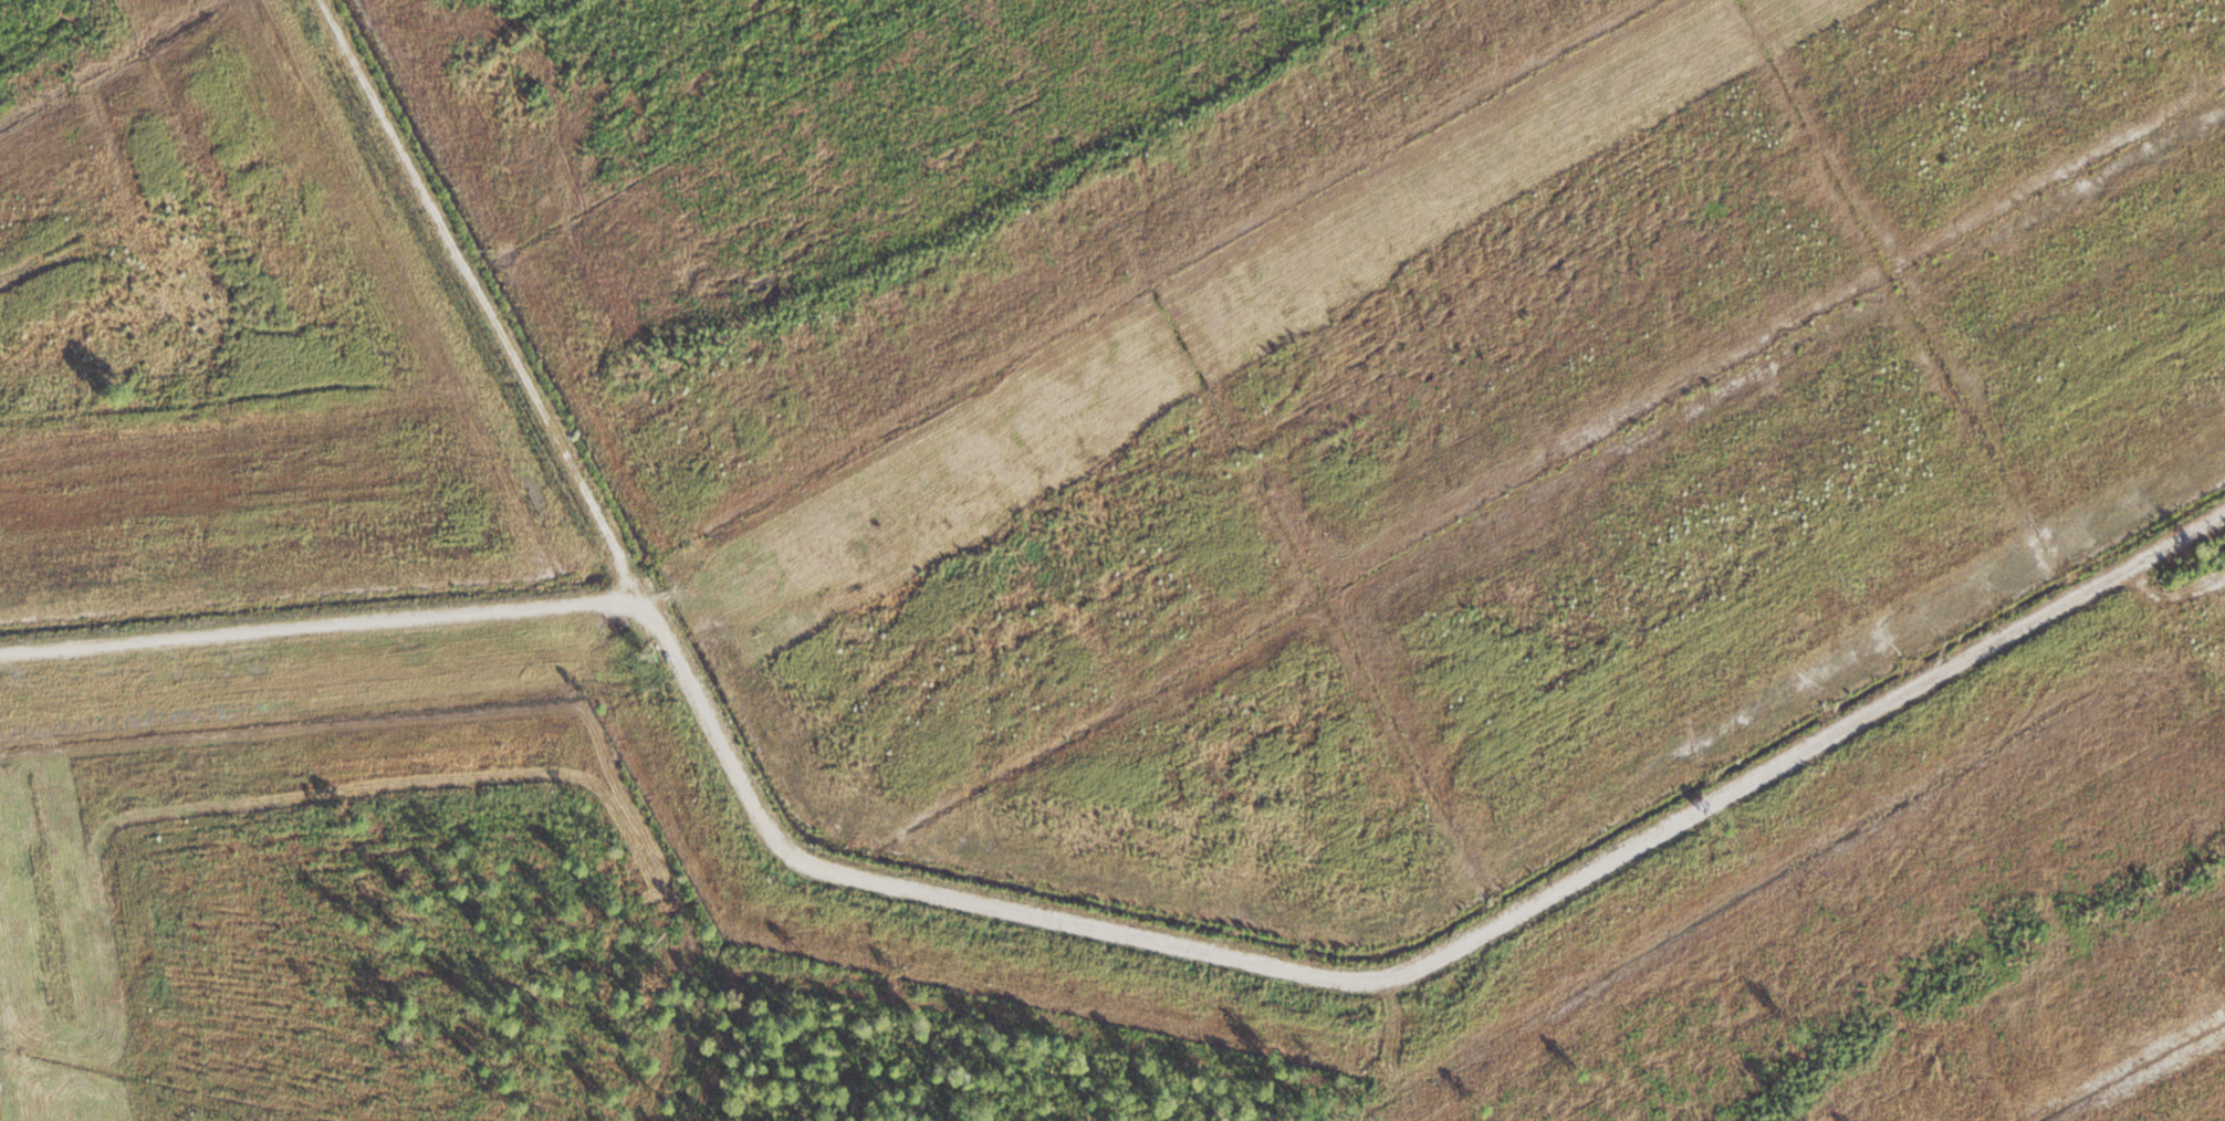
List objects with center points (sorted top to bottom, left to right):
road: (309, 701)
road: (1023, 997)

